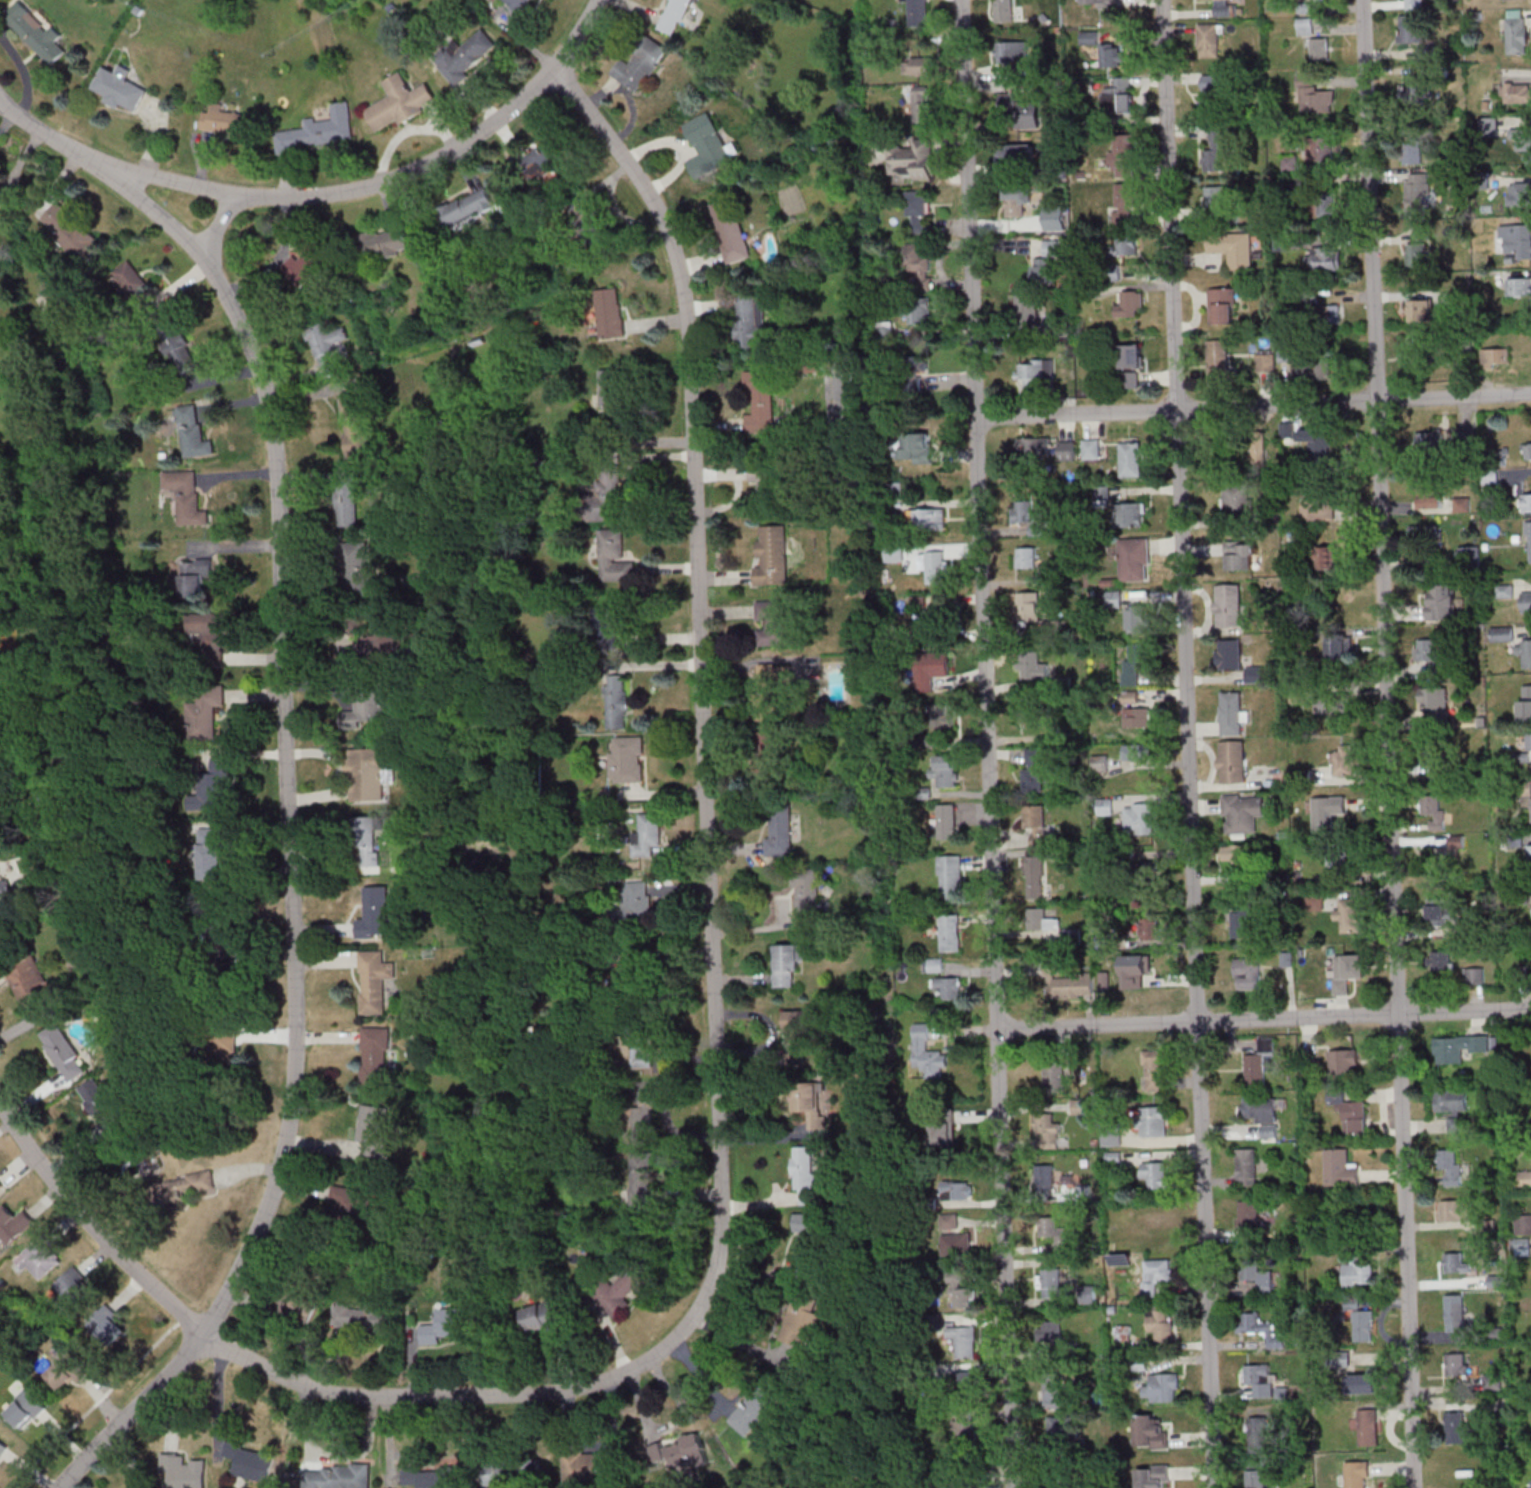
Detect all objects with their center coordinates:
building: (1101, 3)
building: (519, 4)
building: (1414, 4)
building: (1224, 7)
building: (1004, 10)
building: (918, 12)
building: (674, 16)
building: (1305, 25)
building: (1410, 28)
building: (1516, 31)
building: (37, 32)
building: (1208, 39)
building: (1320, 48)
building: (1011, 49)
building: (1112, 54)
building: (465, 55)
building: (918, 65)
building: (636, 70)
building: (120, 87)
building: (1417, 89)
building: (1516, 92)
building: (1213, 94)
building: (1313, 94)
building: (1119, 96)
building: (400, 101)
building: (922, 103)
building: (1023, 112)
building: (225, 121)
building: (1488, 125)
building: (321, 129)
building: (1520, 138)
building: (709, 145)
building: (1321, 148)
building: (1215, 151)
building: (1412, 152)
building: (1018, 153)
building: (1123, 155)
building: (543, 159)
building: (912, 159)
road: (382, 182)
building: (1, 191)
building: (1417, 193)
building: (1518, 193)
building: (1219, 199)
building: (1017, 200)
building: (1327, 204)
building: (1124, 207)
building: (467, 209)
building: (918, 211)
building: (585, 216)
road: (221, 225)
building: (731, 229)
building: (71, 232)
building: (1516, 241)
building: (382, 242)
building: (1232, 248)
building: (1119, 253)
building: (1416, 254)
building: (1324, 258)
building: (307, 263)
building: (915, 266)
building: (1044, 271)
building: (129, 279)
building: (1518, 286)
building: (1130, 304)
building: (1222, 305)
building: (1026, 307)
building: (916, 310)
building: (1420, 310)
building: (611, 312)
building: (1325, 315)
building: (750, 321)
building: (885, 328)
building: (329, 348)
building: (182, 354)
building: (1131, 355)
building: (1417, 357)
building: (1218, 360)
building: (1263, 361)
building: (915, 362)
building: (1314, 369)
building: (1035, 372)
building: (1131, 379)
building: (912, 383)
building: (609, 387)
building: (760, 400)
road: (1215, 410)
building: (356, 426)
building: (193, 432)
building: (1315, 438)
building: (1429, 441)
building: (1034, 446)
building: (916, 447)
building: (1251, 447)
building: (1067, 450)
building: (1528, 450)
building: (1497, 457)
building: (1130, 458)
building: (766, 475)
building: (348, 495)
building: (605, 495)
building: (1429, 495)
building: (187, 497)
building: (1236, 499)
building: (1526, 502)
building: (1461, 504)
building: (1317, 509)
building: (1131, 514)
building: (1028, 516)
building: (928, 519)
building: (1426, 534)
building: (1291, 539)
building: (1529, 541)
building: (773, 554)
building: (1241, 554)
building: (613, 556)
building: (1025, 556)
building: (1326, 556)
building: (1133, 559)
building: (1431, 560)
building: (935, 565)
building: (356, 569)
building: (196, 576)
building: (1111, 598)
building: (1442, 601)
building: (1526, 601)
building: (1227, 604)
building: (1029, 607)
building: (1137, 618)
building: (773, 622)
building: (604, 625)
building: (1502, 633)
building: (210, 638)
building: (383, 644)
building: (1339, 648)
building: (1427, 649)
building: (1228, 653)
building: (1524, 653)
building: (1133, 662)
building: (1030, 665)
building: (930, 668)
building: (770, 693)
building: (616, 701)
building: (1335, 702)
building: (1435, 703)
building: (1033, 707)
building: (366, 709)
building: (205, 713)
building: (1231, 713)
building: (939, 716)
building: (1135, 717)
building: (1528, 741)
road: (988, 743)
road: (1188, 743)
road: (1389, 744)
building: (1131, 751)
building: (764, 753)
building: (627, 758)
building: (1436, 758)
building: (1344, 760)
building: (1231, 761)
building: (1100, 762)
building: (1035, 769)
building: (944, 770)
road: (287, 771)
building: (371, 771)
building: (208, 796)
building: (1104, 806)
building: (1434, 810)
building: (1241, 812)
building: (1327, 812)
building: (1139, 818)
building: (945, 820)
building: (1035, 824)
building: (779, 831)
building: (648, 834)
building: (367, 840)
building: (213, 843)
building: (1530, 852)
building: (1236, 853)
building: (1340, 854)
building: (1034, 876)
building: (948, 877)
building: (805, 891)
building: (5, 898)
building: (635, 900)
building: (1315, 901)
building: (378, 913)
building: (1350, 914)
building: (1440, 914)
building: (1040, 919)
building: (1241, 922)
building: (1151, 928)
building: (217, 932)
building: (947, 932)
road: (712, 939)
building: (1438, 960)
building: (786, 963)
building: (931, 964)
building: (628, 967)
building: (1246, 969)
building: (1136, 970)
building: (1347, 970)
building: (1474, 974)
building: (376, 980)
building: (30, 981)
building: (1069, 986)
building: (948, 987)
road: (1217, 1022)
building: (800, 1032)
building: (1460, 1047)
building: (221, 1048)
building: (634, 1049)
building: (64, 1051)
building: (927, 1053)
building: (377, 1055)
building: (1260, 1060)
building: (1343, 1061)
building: (1156, 1070)
building: (1054, 1075)
building: (1450, 1099)
building: (808, 1102)
building: (102, 1104)
building: (642, 1111)
building: (1262, 1113)
building: (1349, 1113)
building: (1153, 1121)
building: (1455, 1124)
building: (376, 1128)
building: (1048, 1129)
building: (943, 1132)
building: (1111, 1135)
building: (1448, 1166)
building: (1246, 1167)
building: (1339, 1168)
building: (1157, 1173)
building: (804, 1174)
building: (1047, 1175)
building: (642, 1176)
building: (1524, 1177)
building: (187, 1186)
building: (0, 1187)
building: (957, 1190)
building: (351, 1202)
building: (1454, 1209)
building: (1247, 1217)
building: (949, 1221)
building: (14, 1223)
road: (90, 1224)
building: (1522, 1224)
building: (807, 1228)
building: (1052, 1230)
building: (956, 1243)
building: (1519, 1246)
building: (42, 1257)
building: (1455, 1262)
building: (1357, 1272)
building: (1154, 1275)
building: (1049, 1282)
building: (76, 1289)
building: (621, 1289)
building: (958, 1291)
building: (305, 1307)
building: (1454, 1312)
building: (363, 1316)
building: (543, 1317)
road: (184, 1319)
building: (1160, 1321)
building: (800, 1323)
building: (445, 1325)
building: (1362, 1325)
building: (110, 1327)
building: (1258, 1328)
building: (1048, 1331)
building: (1122, 1332)
building: (963, 1339)
building: (1455, 1363)
building: (68, 1370)
building: (1255, 1373)
building: (963, 1381)
building: (1164, 1381)
building: (1365, 1383)
building: (1054, 1390)
road: (96, 1402)
building: (26, 1409)
building: (751, 1410)
building: (961, 1421)
building: (1367, 1426)
building: (1060, 1428)
building: (1457, 1428)
building: (1150, 1432)
building: (1256, 1434)
building: (3, 1446)
building: (682, 1452)
building: (250, 1460)
building: (589, 1467)
building: (504, 1469)
building: (183, 1472)
building: (1258, 1474)
building: (1356, 1474)
building: (338, 1476)
building: (1152, 1476)
building: (432, 1477)
building: (1530, 1483)
building: (967, 1484)

